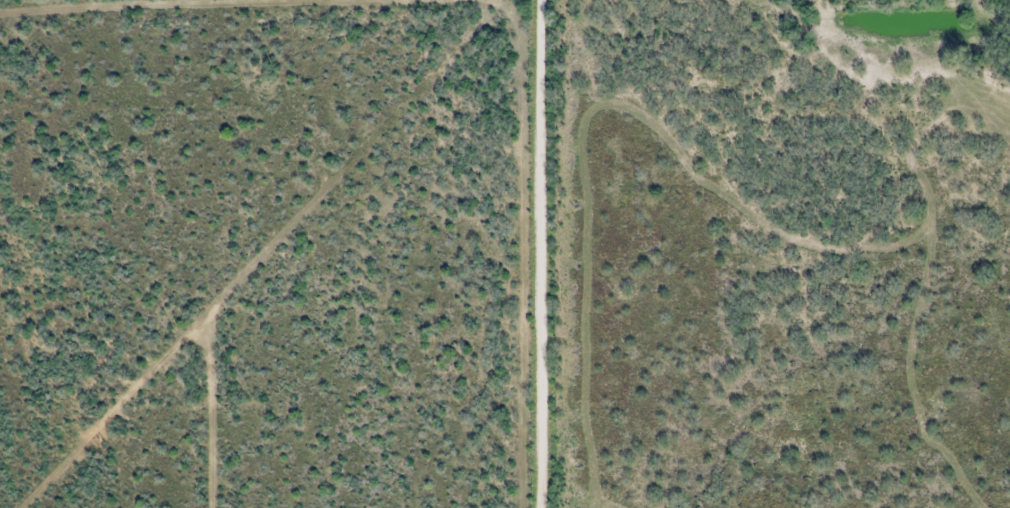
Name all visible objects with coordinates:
road: (542, 254)

